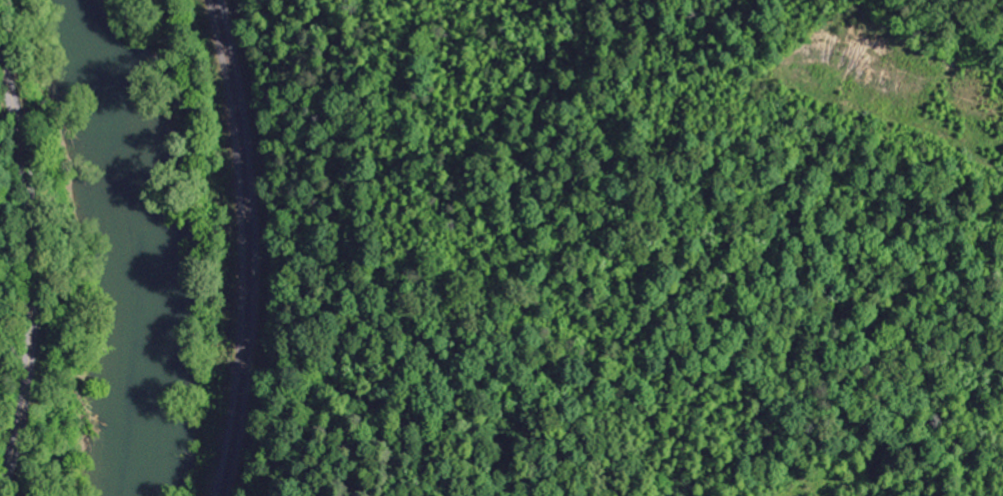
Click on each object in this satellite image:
river: (141, 245)
railway: (249, 247)
road: (31, 270)

